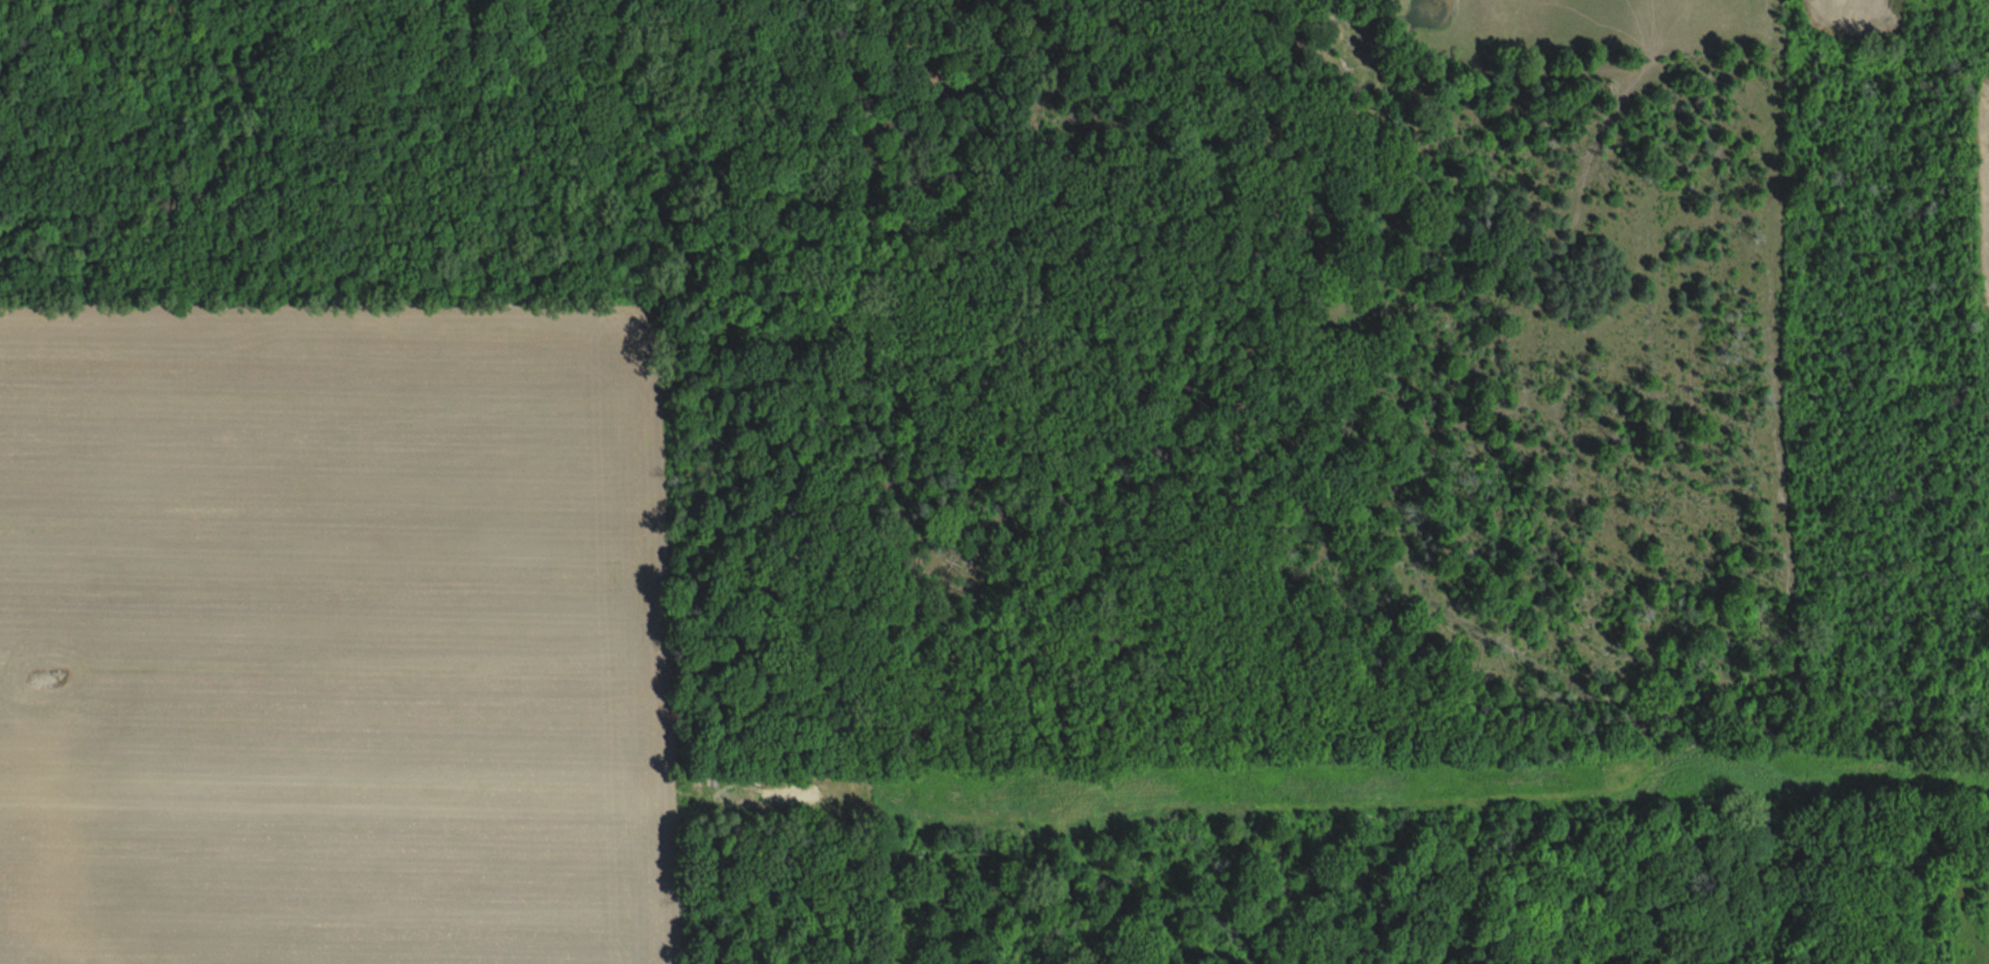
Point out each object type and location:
crop: (1891, 20)
crop: (1979, 174)
crop: (331, 639)

